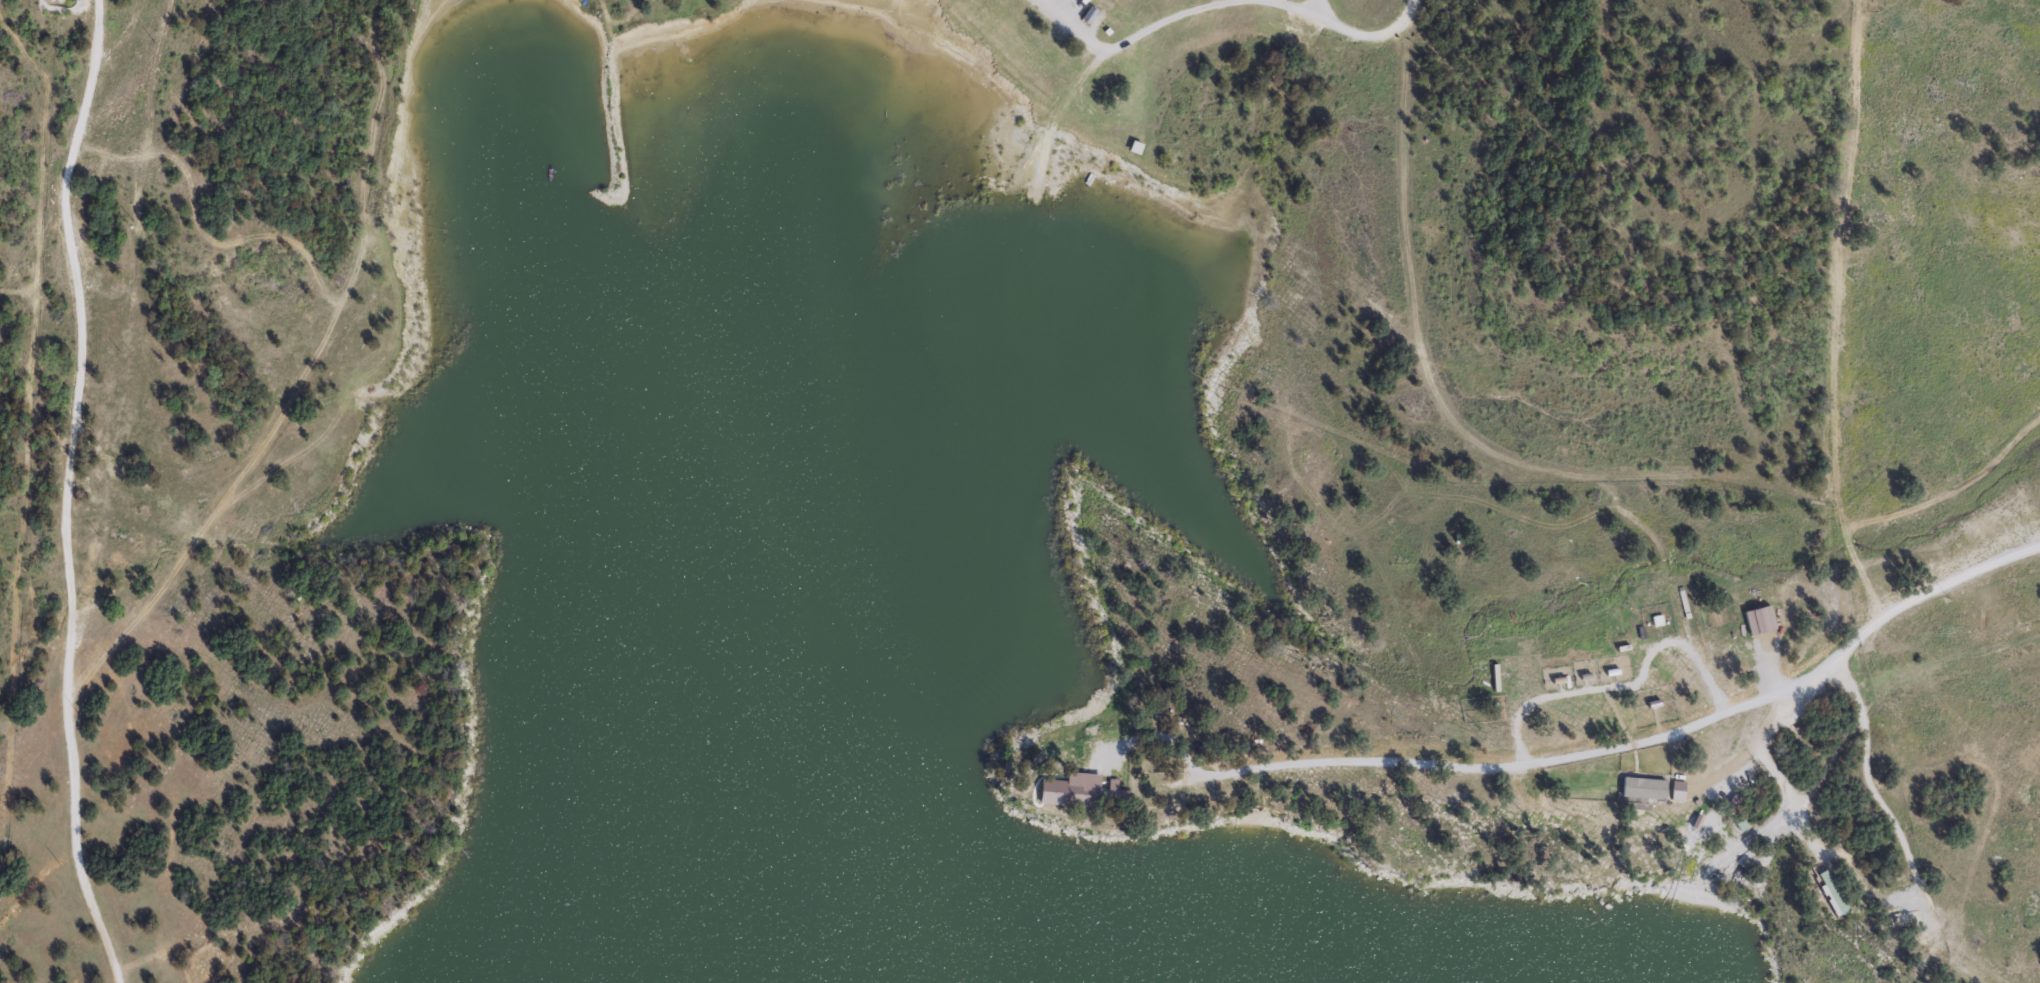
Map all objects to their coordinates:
road: (1368, 34)
road: (299, 379)
road: (26, 408)
road: (1462, 431)
road: (66, 492)
road: (1763, 749)
road: (1587, 754)
road: (1866, 777)
road: (1147, 785)
building: (1083, 791)
building: (1741, 825)
building: (1833, 891)
building: (1905, 906)
building: (1928, 933)

